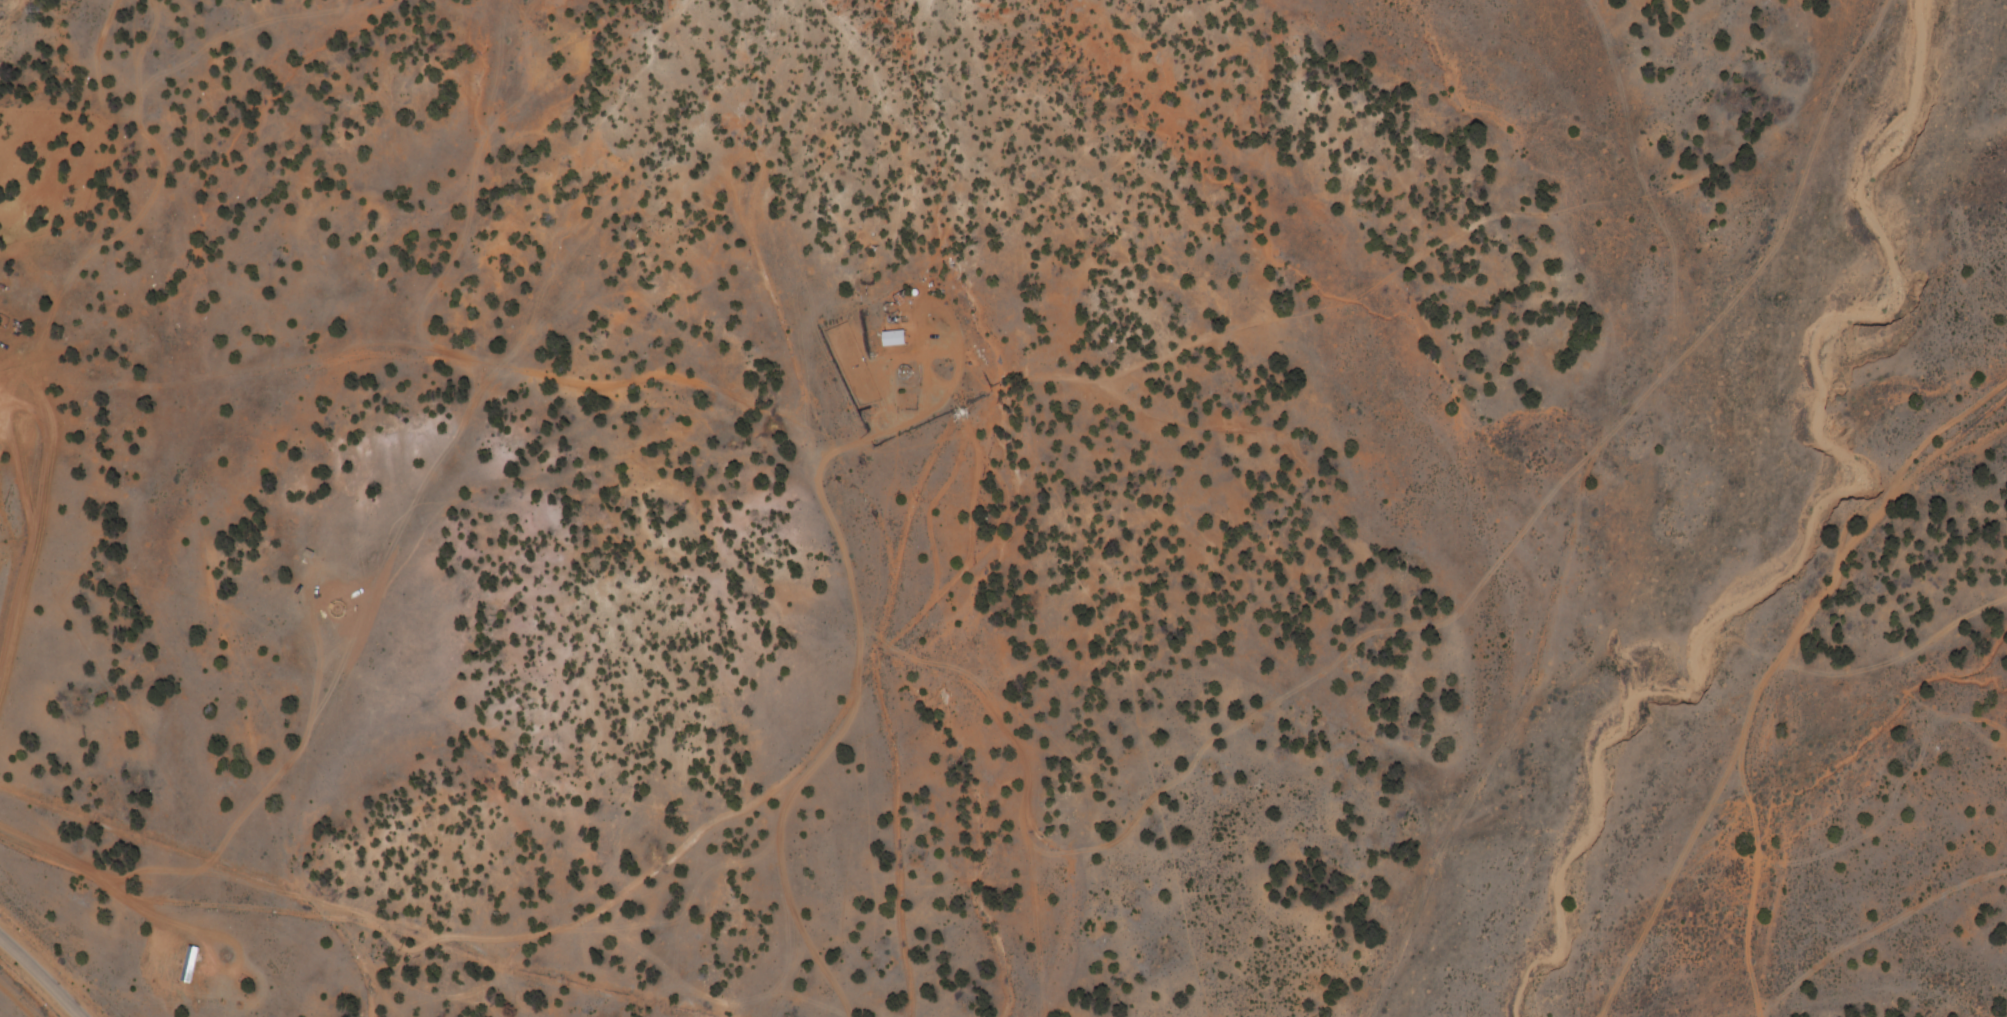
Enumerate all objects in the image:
road: (1571, 481)
road: (8, 510)
road: (1775, 659)
road: (42, 976)
road: (1739, 988)

